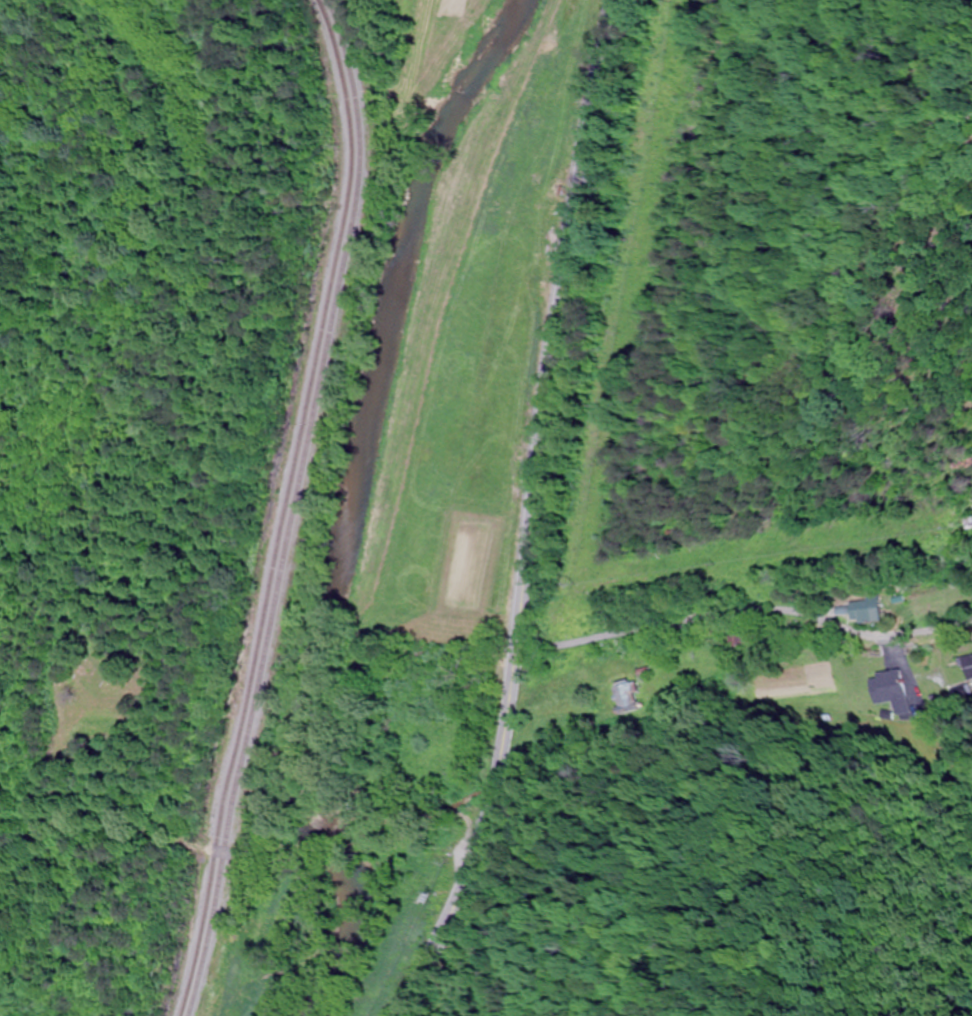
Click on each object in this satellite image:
river: (347, 506)
railway: (294, 507)
road: (528, 516)
road: (744, 597)
building: (867, 612)
building: (968, 667)
park: (99, 669)
building: (890, 692)
building: (628, 698)

